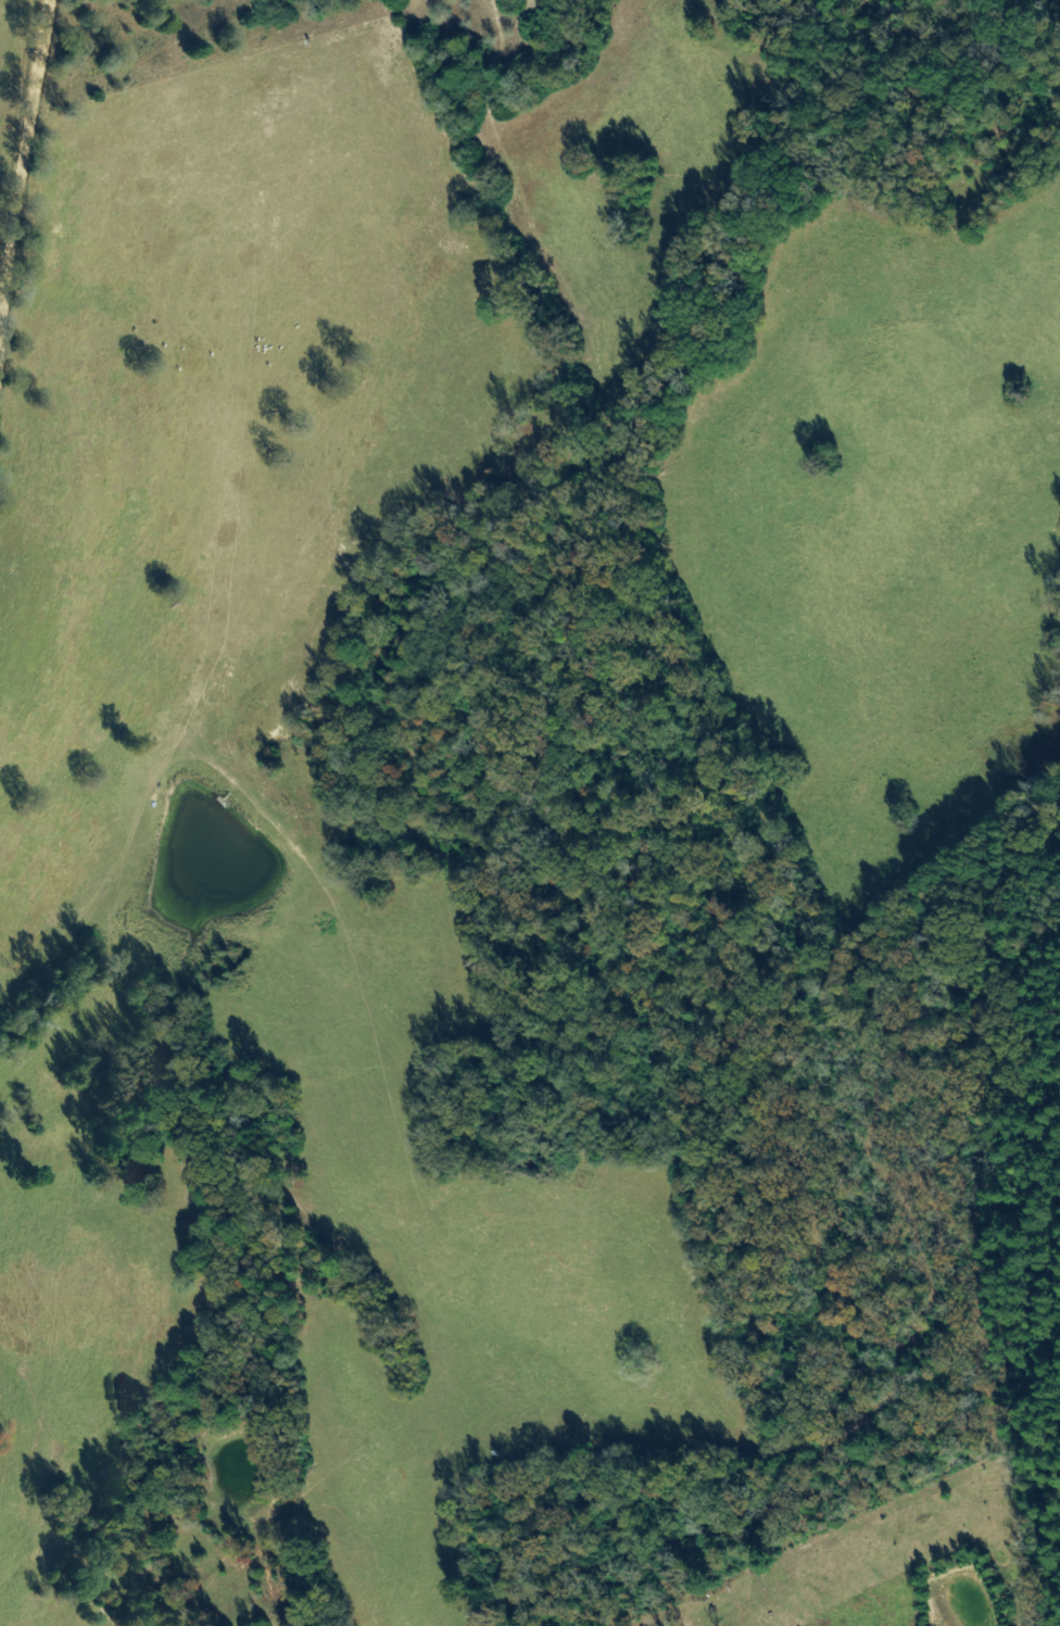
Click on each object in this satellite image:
road: (31, 189)

